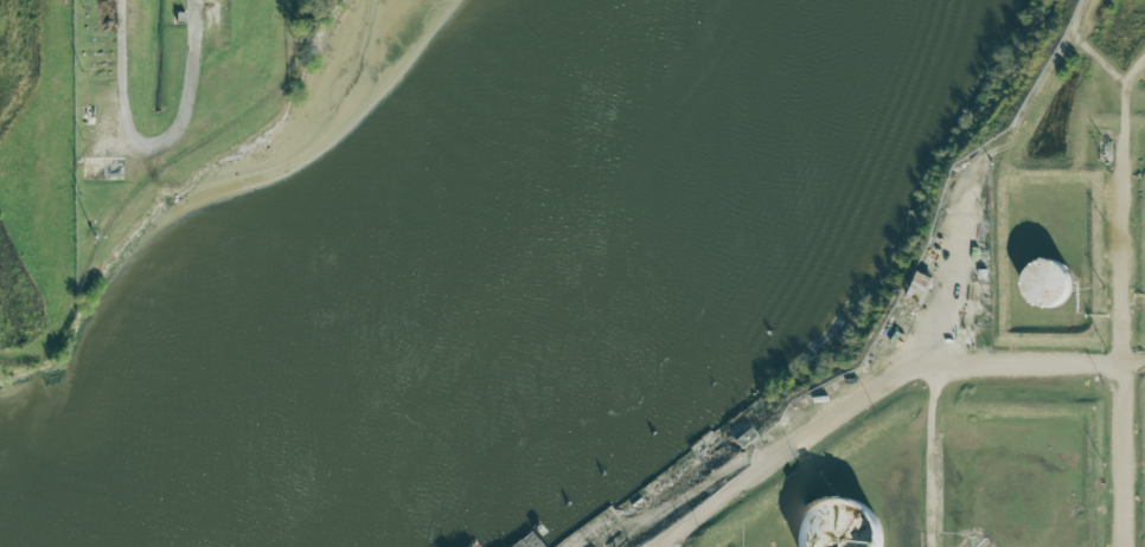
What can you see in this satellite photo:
road: (124, 82)
road: (194, 95)
road: (1132, 259)
building: (1045, 290)
storage tank: (1045, 290)
river: (501, 315)
building: (838, 527)
storage tank: (838, 527)

